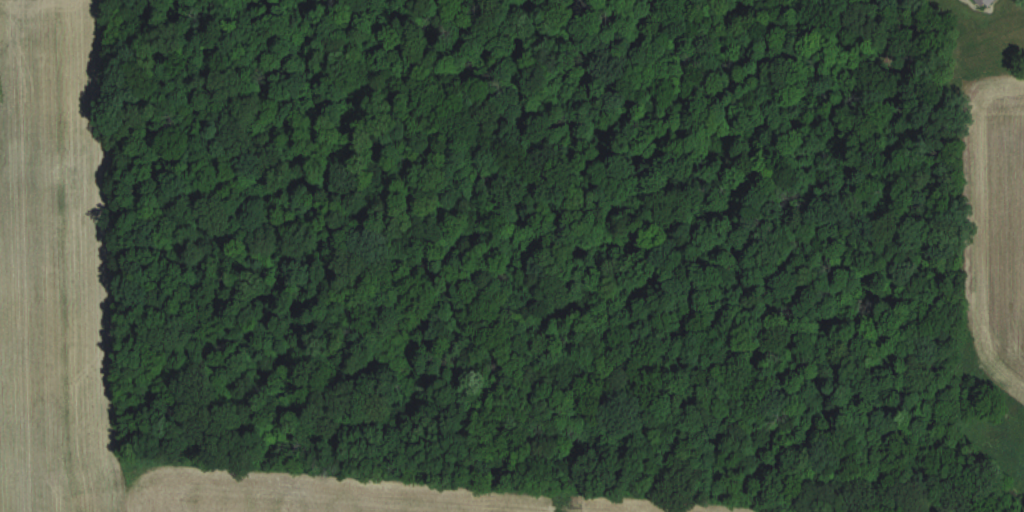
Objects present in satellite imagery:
building: (985, 2)

